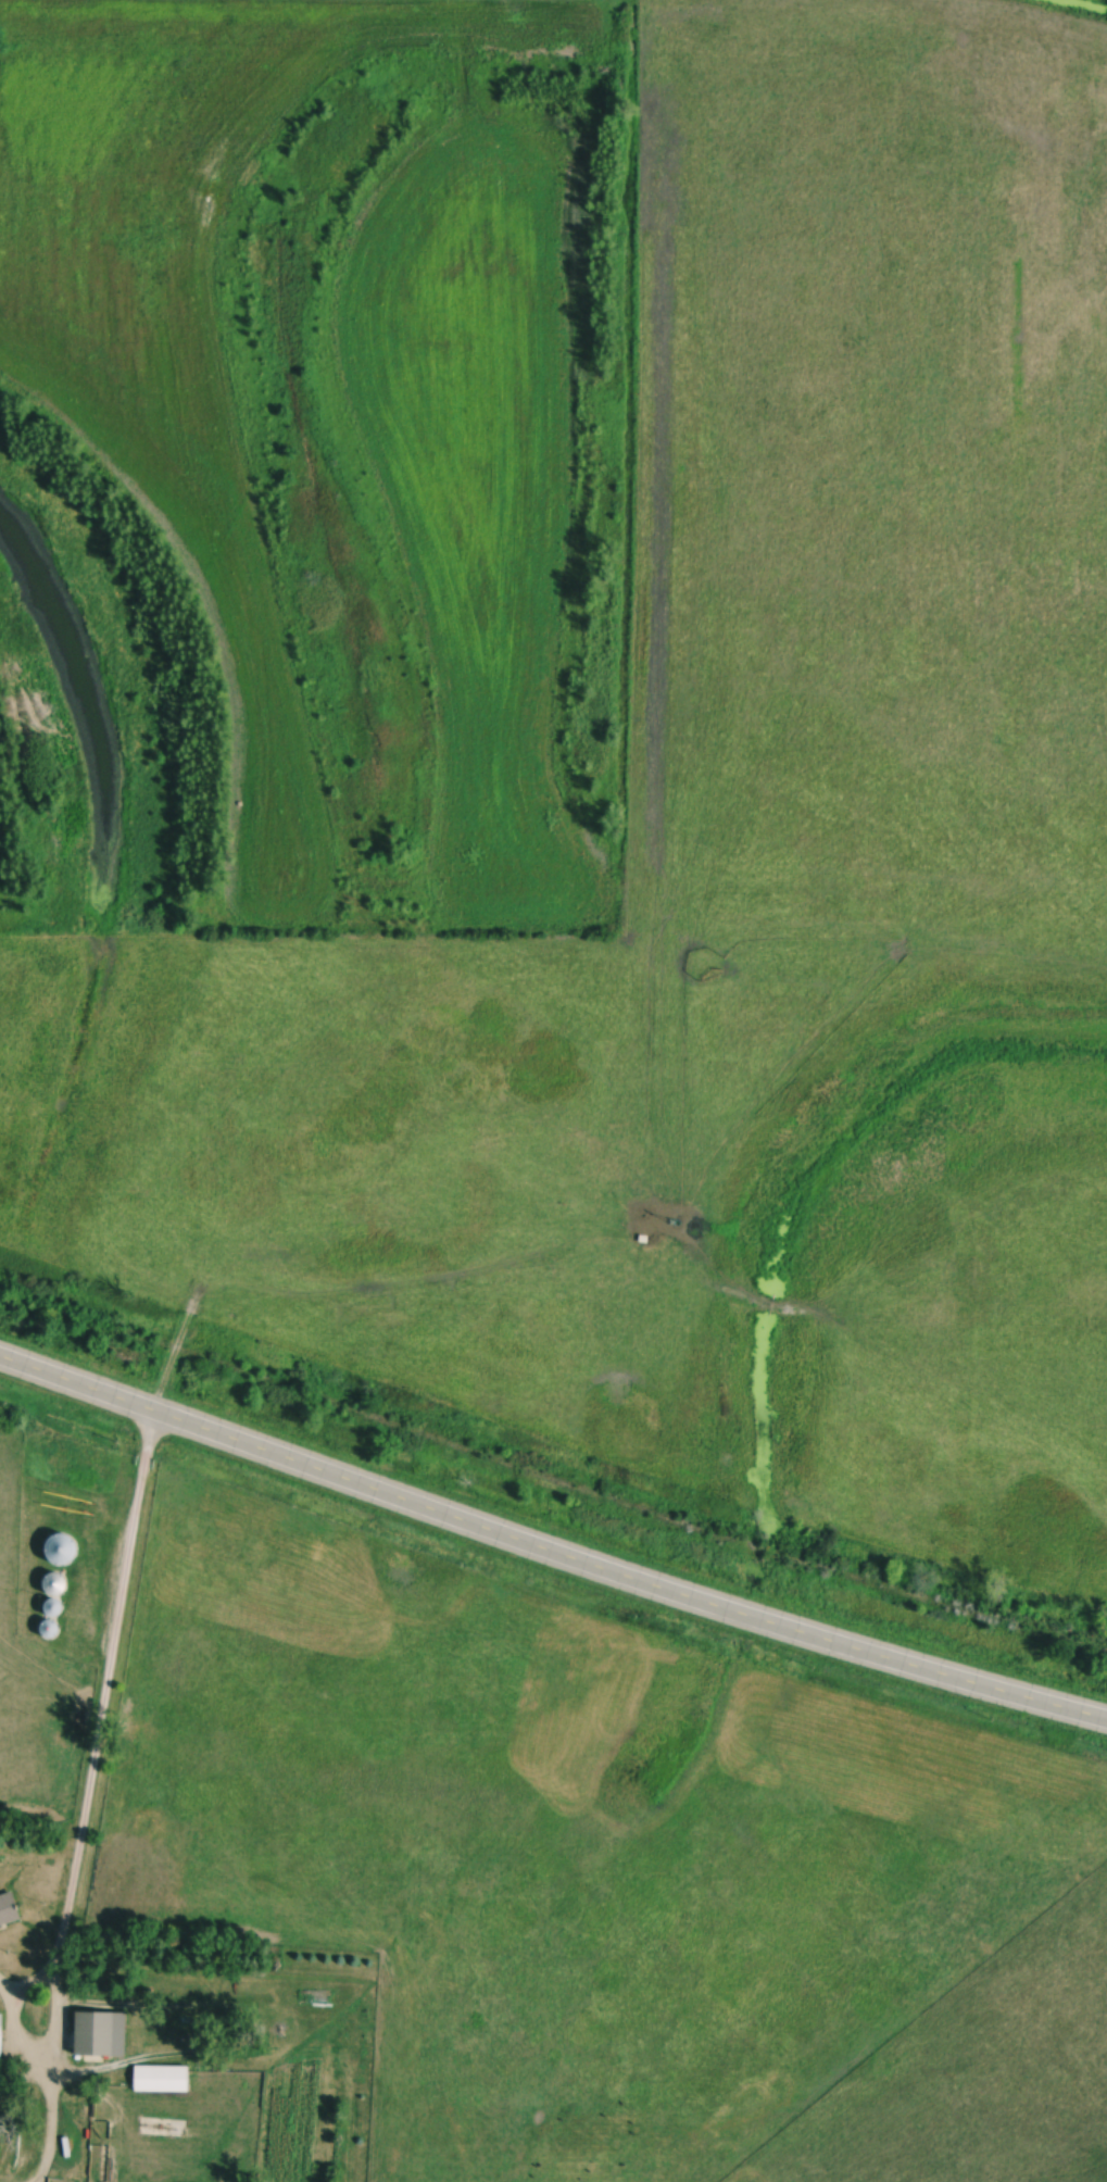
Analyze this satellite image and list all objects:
road: (550, 1547)
building: (63, 1552)
building: (60, 1585)
building: (52, 1630)
road: (87, 1802)
building: (11, 1909)
building: (104, 2032)
building: (0, 2052)
building: (164, 2079)

